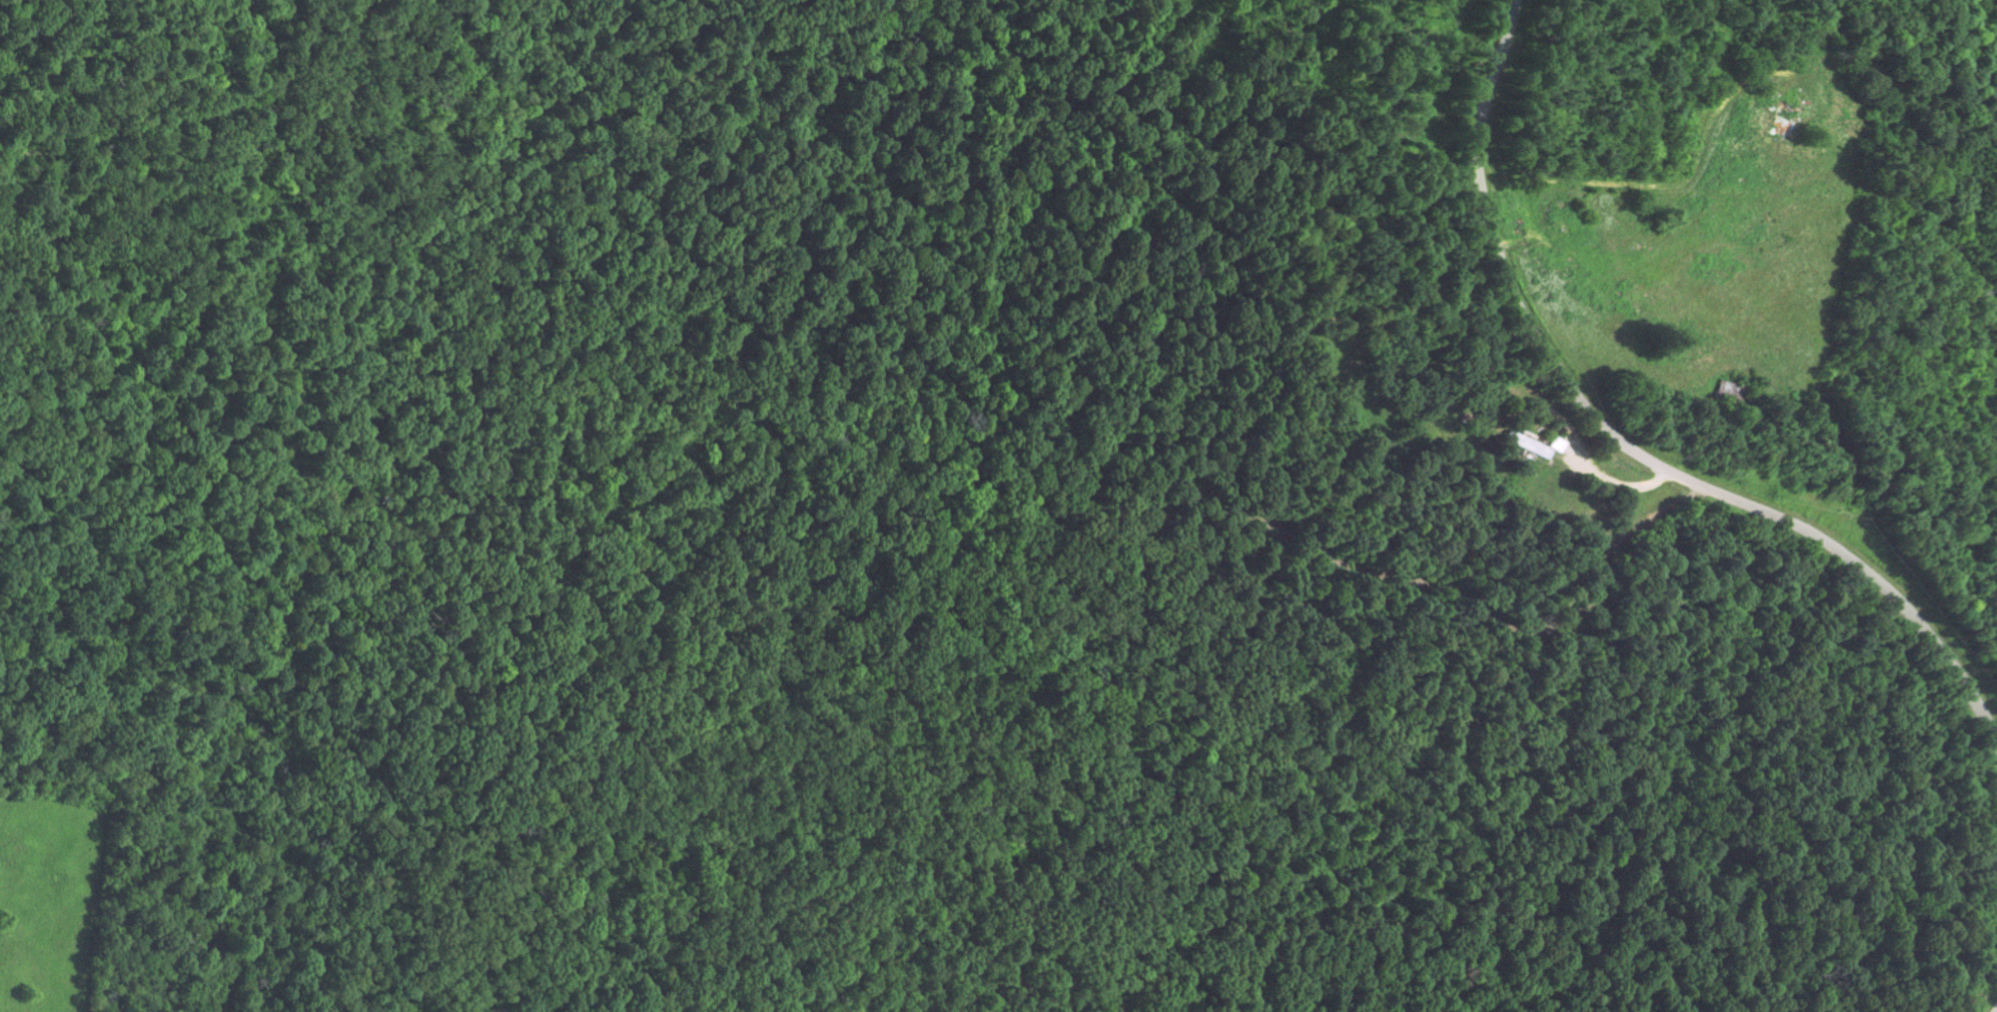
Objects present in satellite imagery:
building: (1527, 444)
building: (1556, 444)
road: (1627, 449)
road: (1995, 1008)

